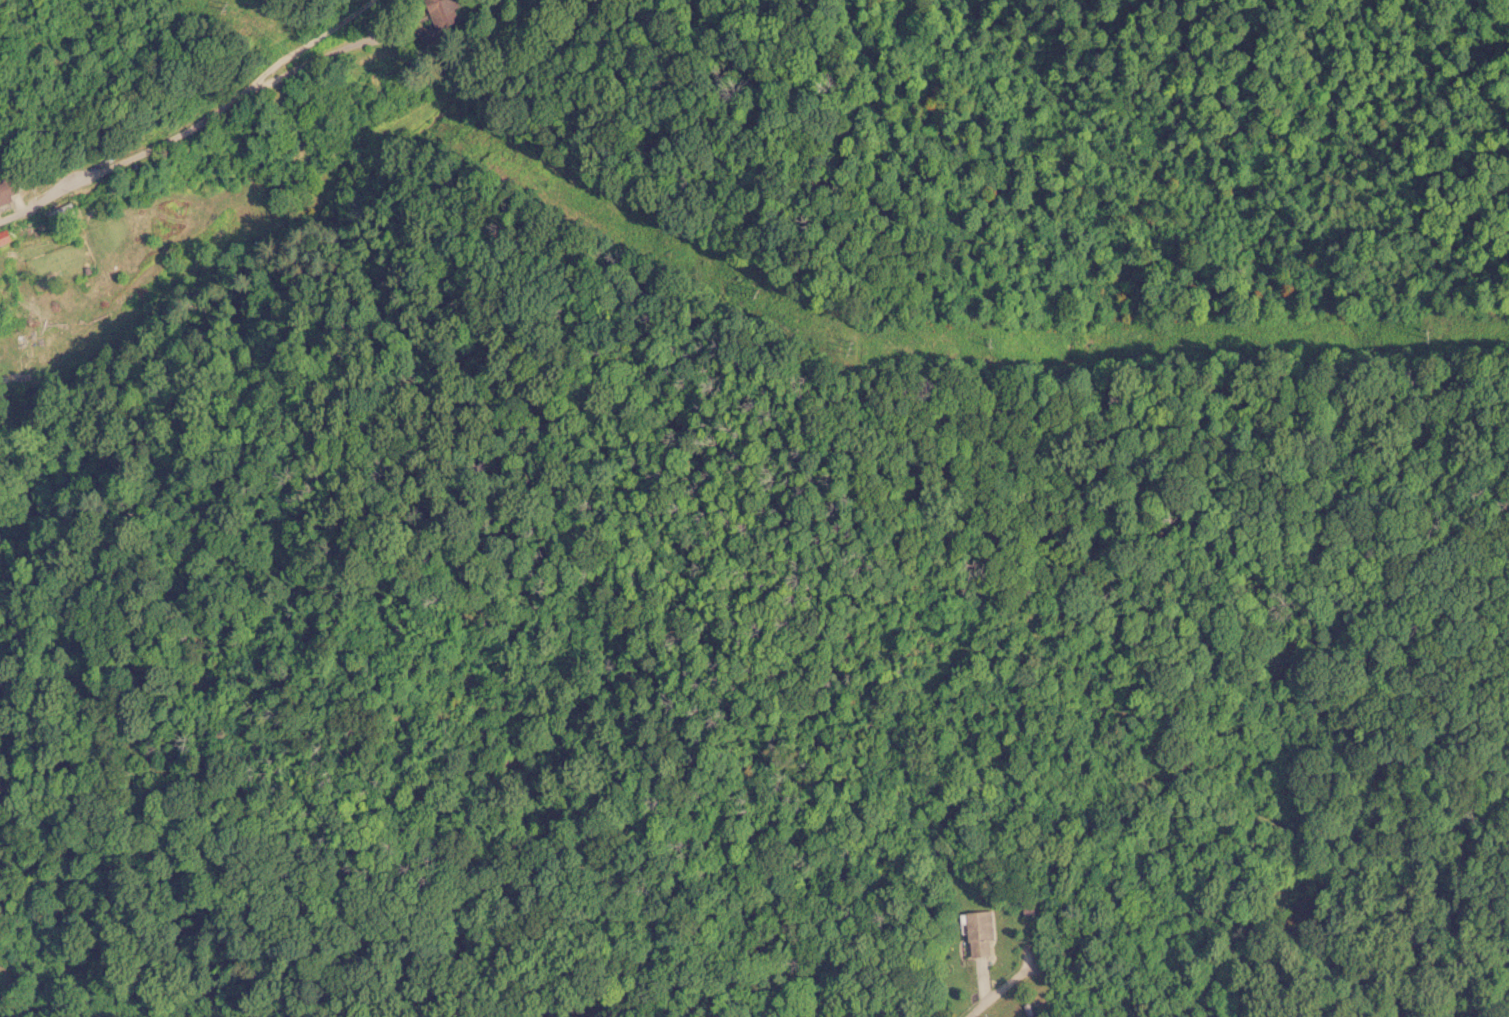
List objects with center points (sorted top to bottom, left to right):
building: (444, 14)
road: (244, 141)
building: (12, 192)
building: (12, 240)
building: (976, 933)

